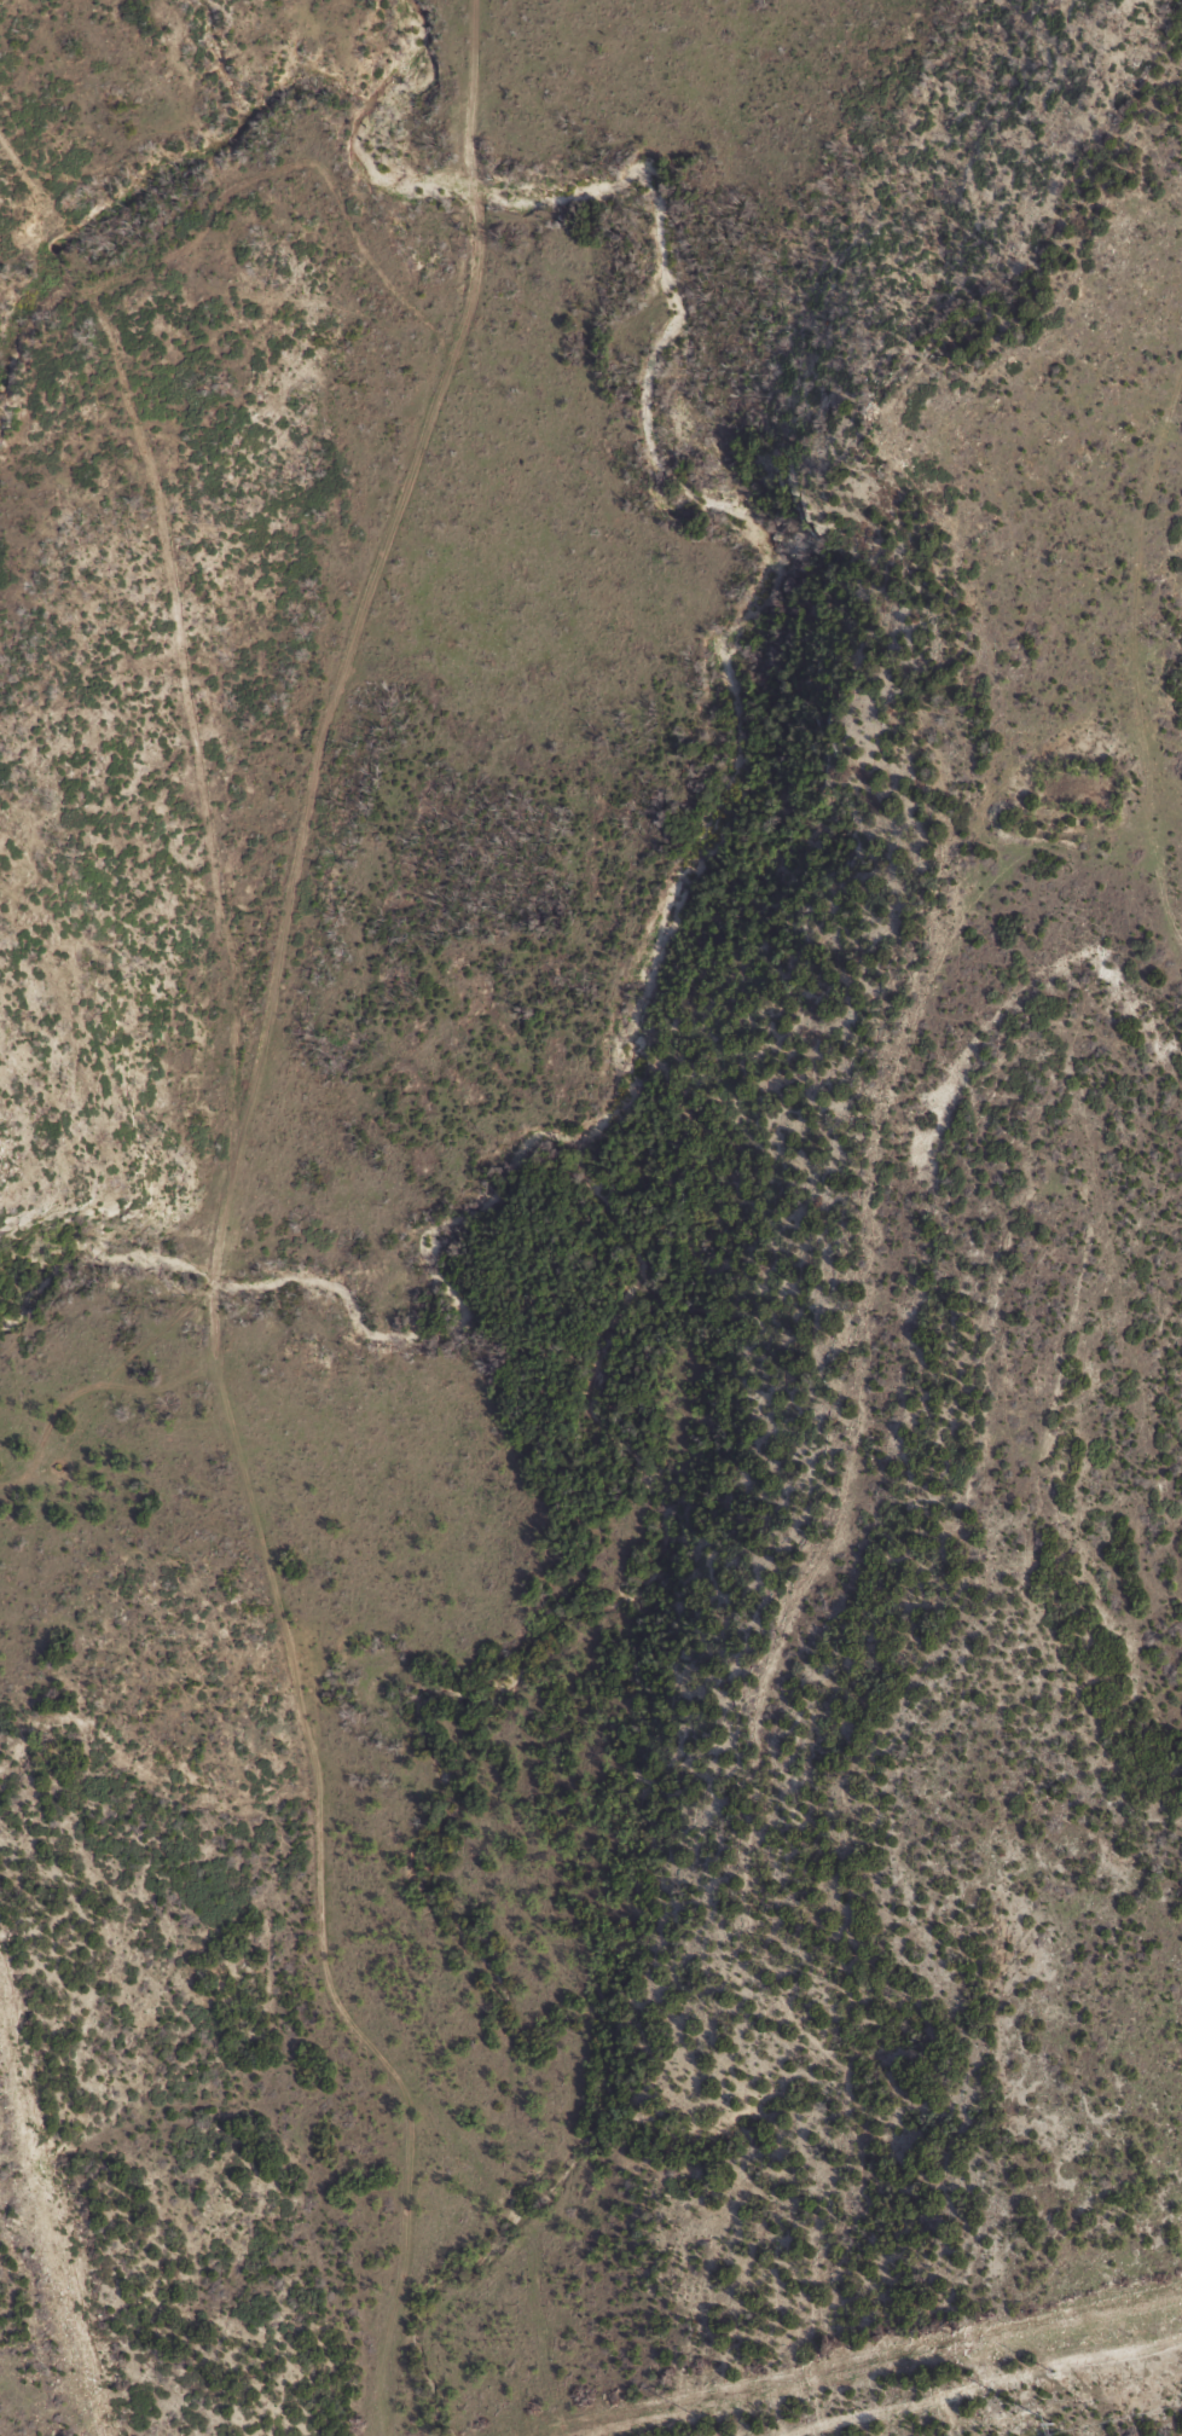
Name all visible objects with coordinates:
power tower: (1054, 2373)
power tower: (1050, 2423)
road: (1147, 2428)

